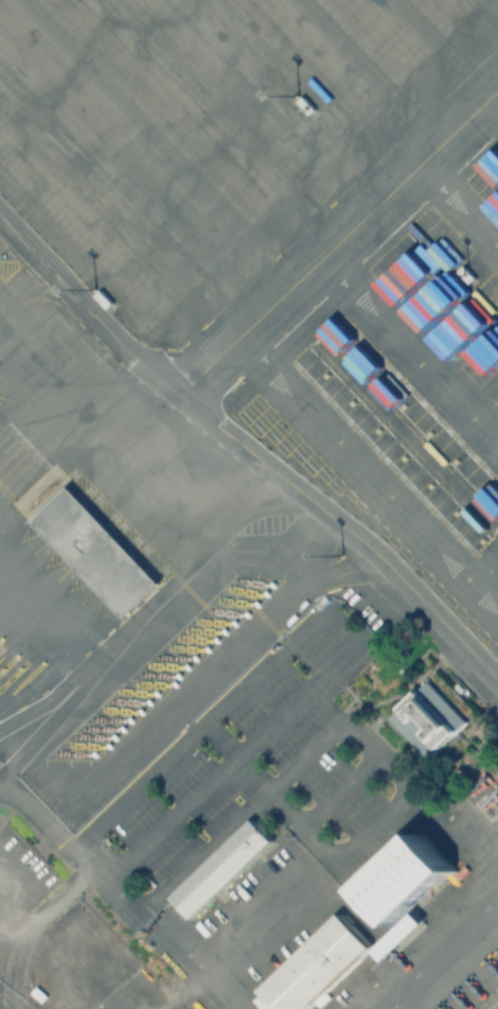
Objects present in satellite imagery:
road: (339, 241)
building: (469, 274)
road: (247, 447)
building: (100, 552)
road: (148, 609)
building: (428, 722)
road: (401, 778)
road: (7, 789)
building: (222, 870)
road: (68, 882)
building: (411, 894)
road: (231, 942)
road: (440, 954)
building: (317, 966)
railway: (10, 1000)
road: (387, 1003)

